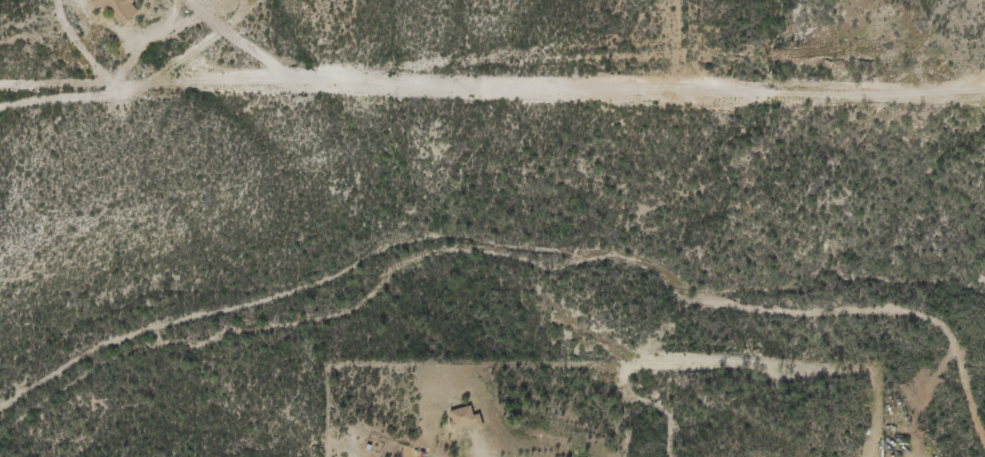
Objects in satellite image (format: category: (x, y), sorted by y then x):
road: (920, 3)
road: (520, 246)
building: (455, 420)

